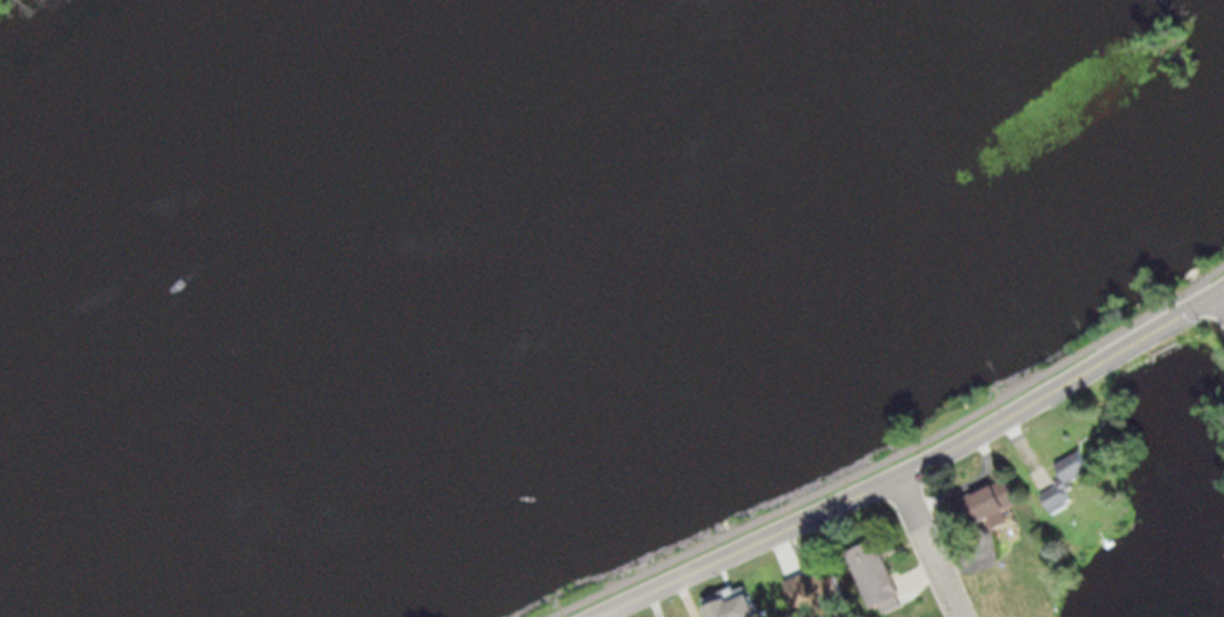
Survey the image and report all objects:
river: (529, 269)
road: (1202, 272)
road: (1218, 295)
road: (906, 466)
building: (1066, 481)
building: (1000, 505)
road: (929, 543)
building: (878, 575)
building: (811, 588)
building: (742, 607)

